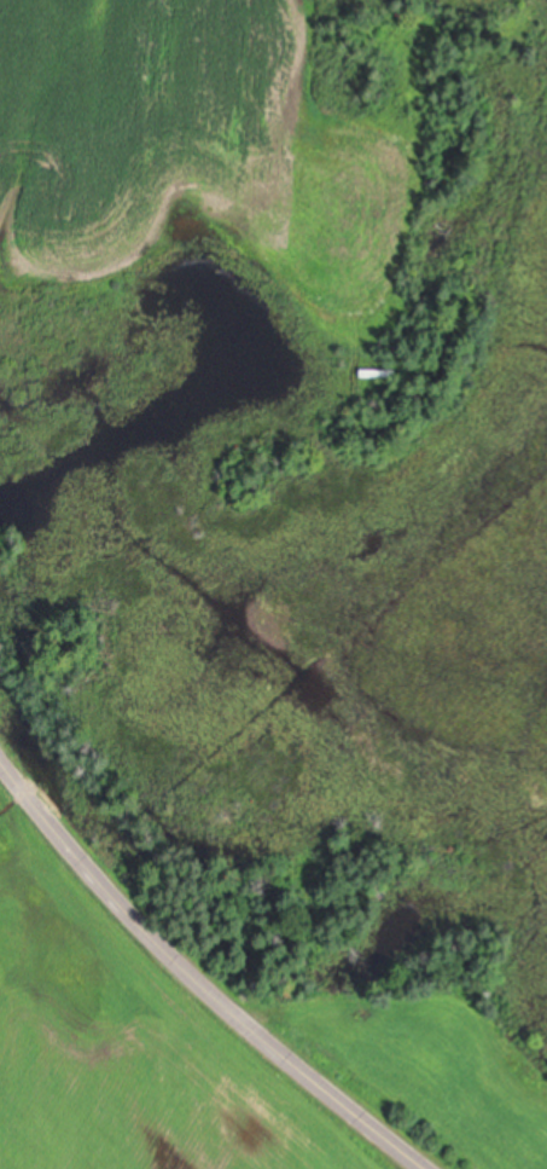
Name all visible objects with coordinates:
road: (198, 980)

